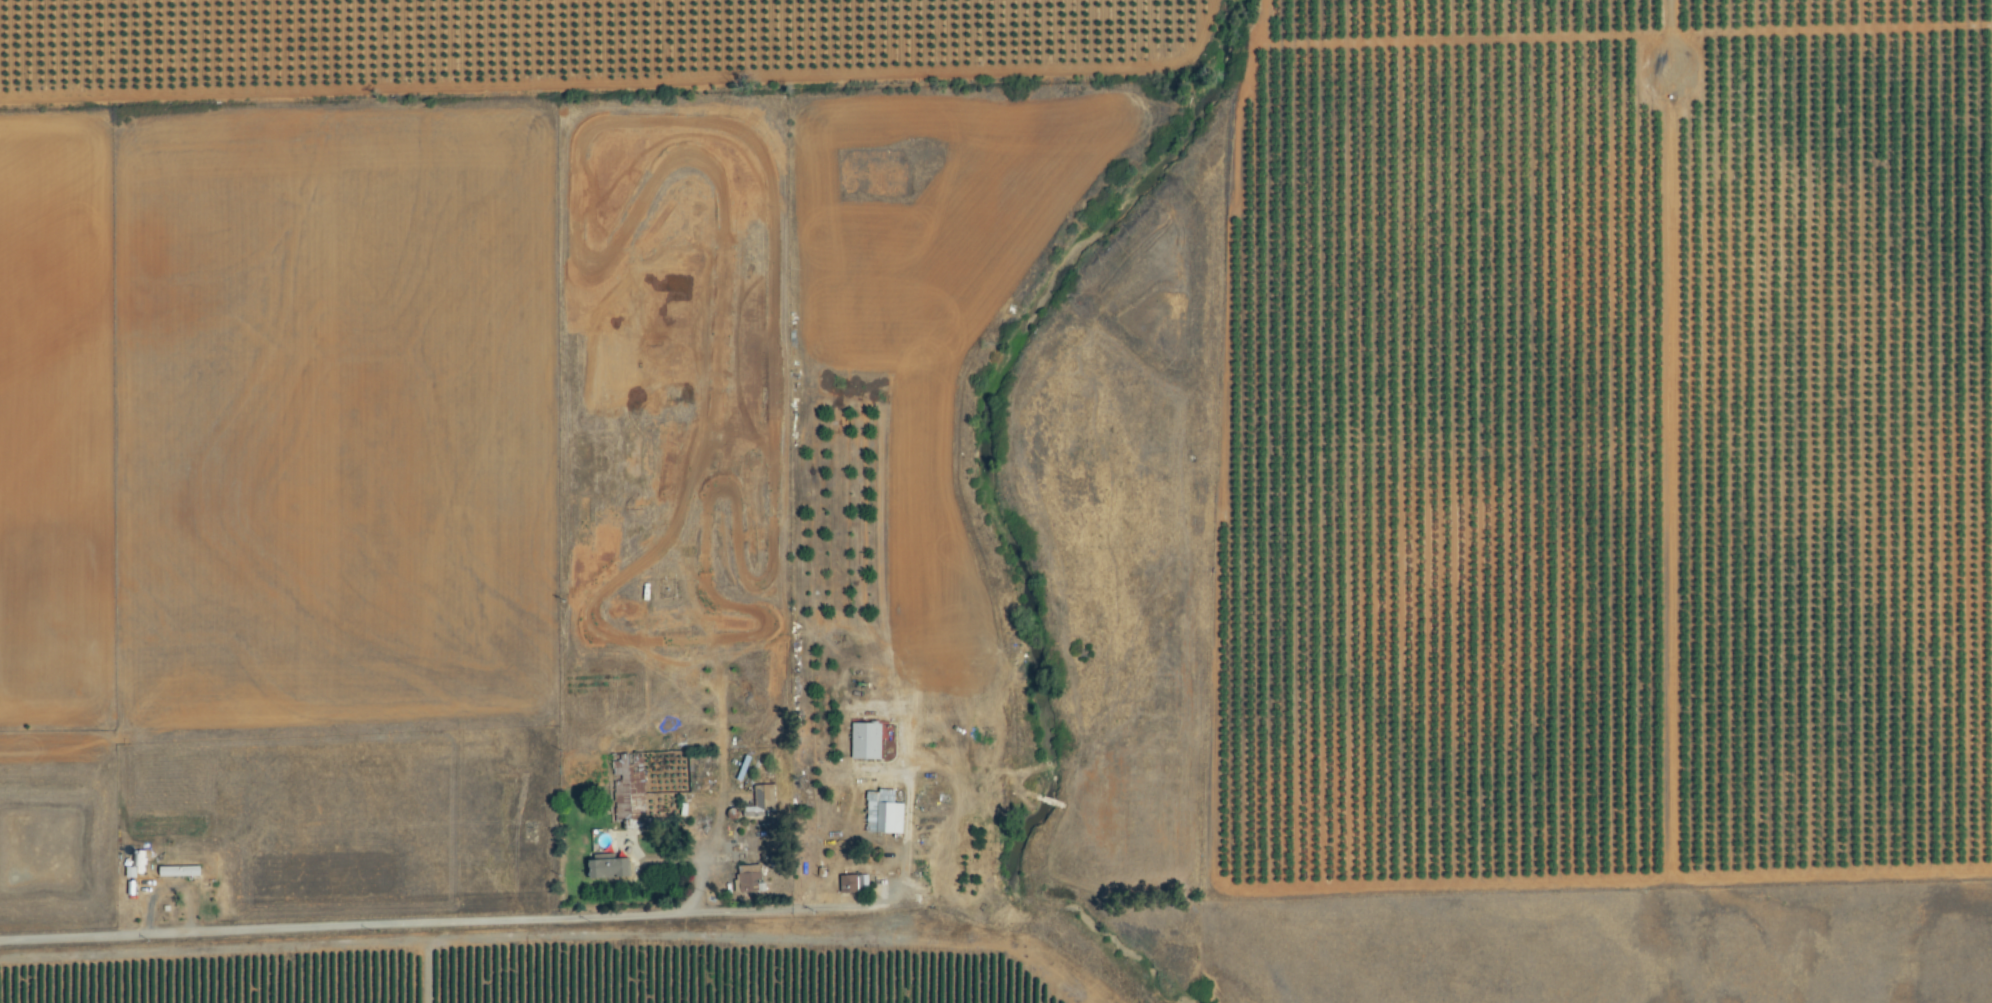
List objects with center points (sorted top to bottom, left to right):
building: (863, 741)
building: (763, 798)
building: (881, 813)
building: (605, 868)
building: (747, 876)
building: (851, 883)
road: (449, 943)
crop: (544, 983)

